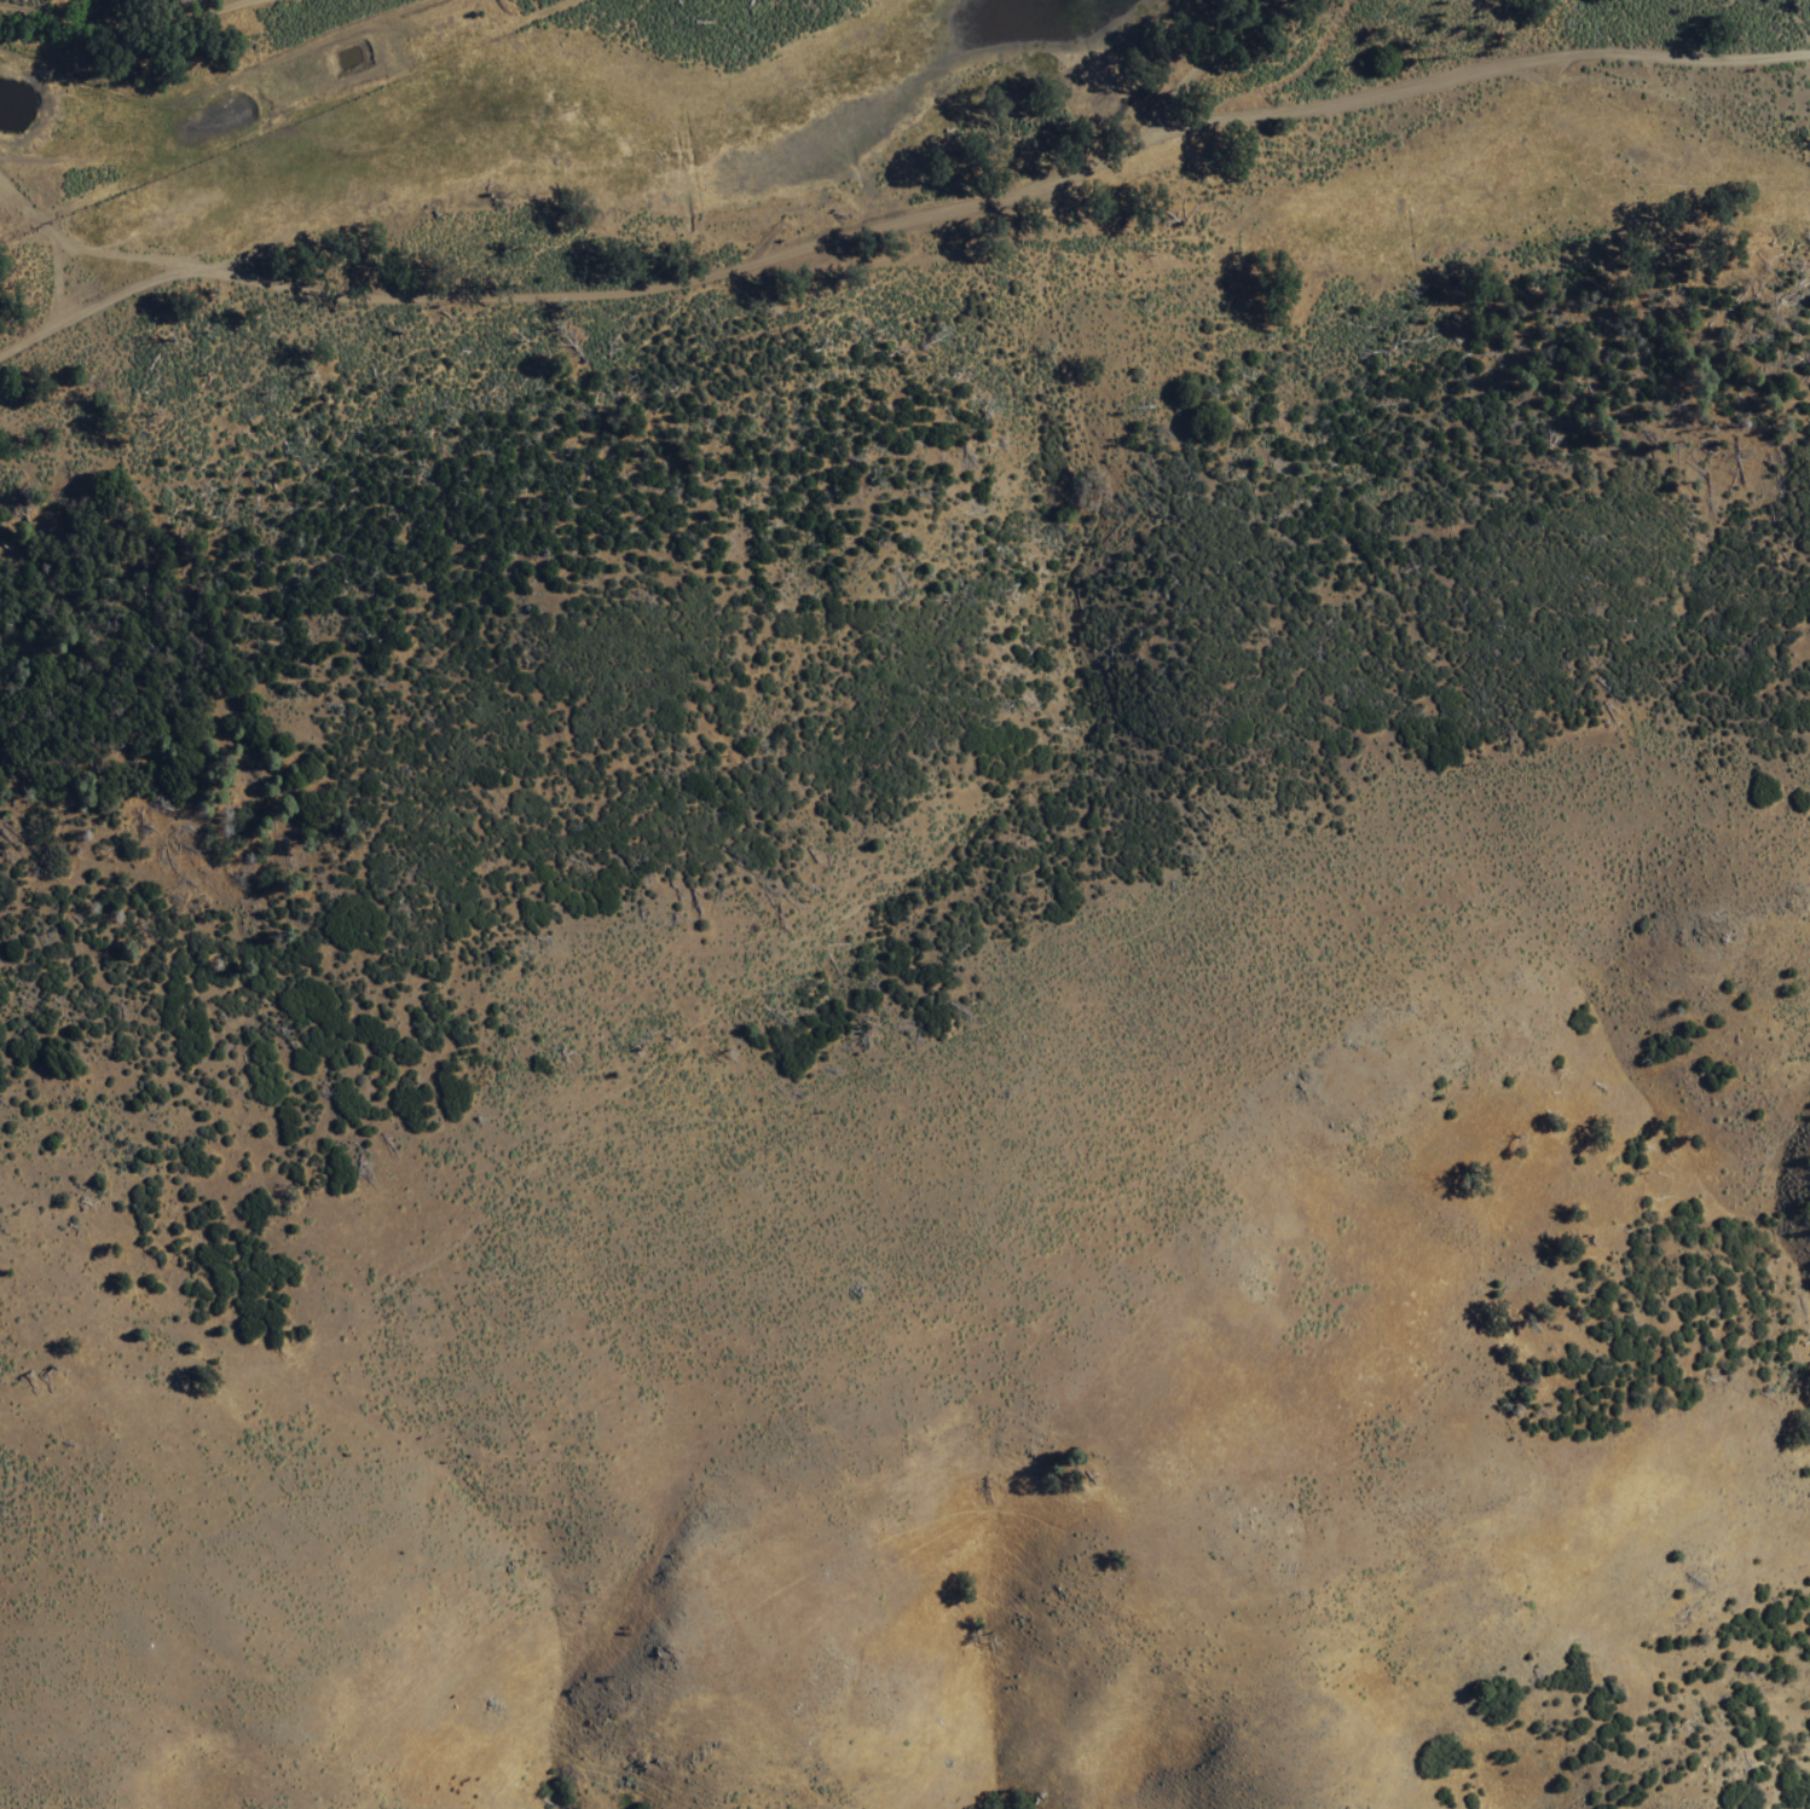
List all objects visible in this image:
road: (115, 16)
road: (1265, 111)
road: (1286, 178)
road: (7, 186)
road: (7, 196)
road: (363, 290)
road: (91, 305)

